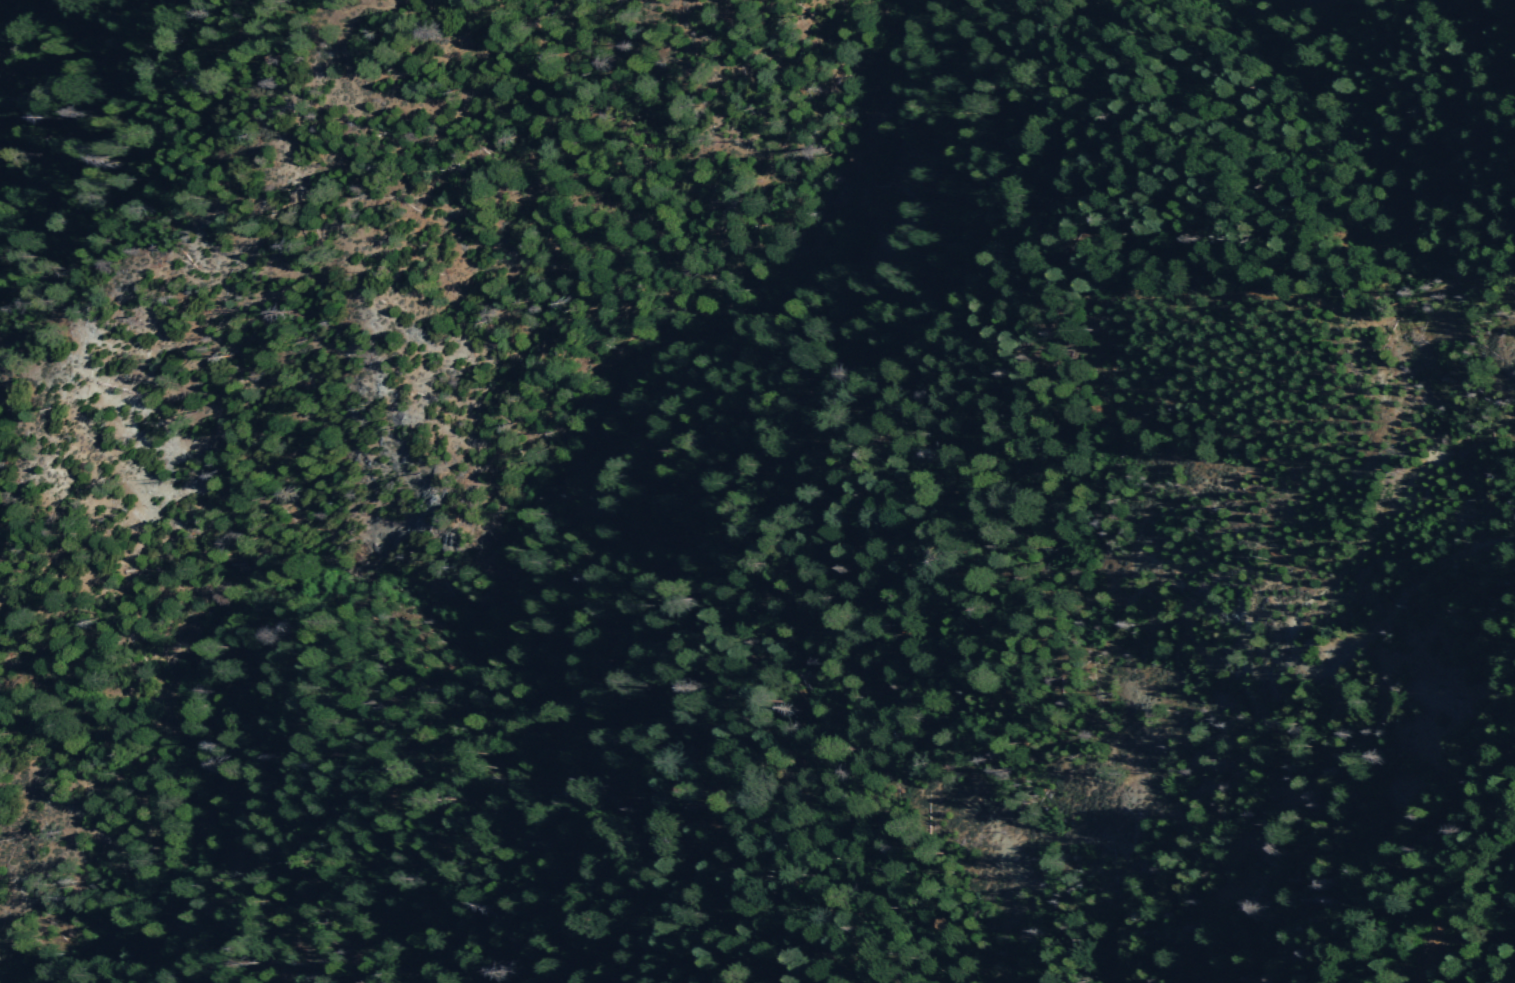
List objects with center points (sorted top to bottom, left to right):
road: (1462, 890)

